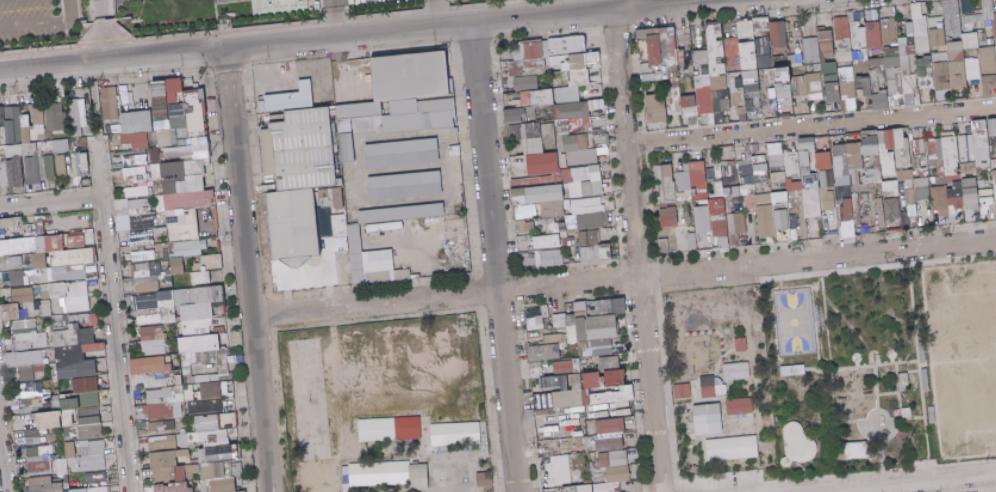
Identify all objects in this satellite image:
building: (283, 3)
road: (426, 3)
road: (628, 3)
building: (990, 3)
building: (979, 6)
road: (329, 7)
building: (914, 10)
building: (229, 14)
building: (861, 14)
building: (994, 14)
building: (849, 16)
road: (427, 17)
building: (950, 17)
building: (972, 20)
building: (934, 22)
road: (459, 23)
road: (42, 24)
road: (331, 25)
building: (759, 25)
building: (943, 25)
building: (919, 26)
building: (840, 27)
building: (747, 28)
building: (994, 28)
road: (104, 29)
building: (908, 29)
building: (709, 30)
building: (887, 31)
building: (645, 33)
building: (717, 33)
building: (758, 33)
building: (823, 33)
building: (777, 34)
building: (854, 34)
building: (873, 35)
building: (935, 37)
building: (954, 38)
building: (862, 39)
building: (947, 39)
building: (968, 39)
building: (710, 43)
building: (769, 43)
building: (981, 43)
building: (920, 44)
building: (952, 45)
building: (842, 46)
building: (904, 46)
building: (761, 47)
building: (825, 48)
building: (941, 48)
building: (642, 49)
building: (653, 49)
building: (667, 49)
building: (747, 49)
building: (809, 49)
building: (530, 50)
building: (779, 50)
building: (985, 50)
building: (994, 50)
building: (889, 51)
building: (683, 52)
building: (927, 52)
building: (716, 53)
building: (731, 53)
building: (972, 53)
building: (544, 55)
building: (840, 55)
building: (853, 55)
building: (859, 55)
building: (874, 55)
building: (954, 55)
building: (638, 57)
building: (699, 57)
road: (110, 58)
building: (793, 58)
building: (937, 58)
building: (895, 59)
building: (549, 60)
building: (779, 61)
building: (874, 61)
building: (559, 62)
building: (576, 62)
building: (763, 62)
building: (969, 62)
building: (995, 62)
building: (567, 63)
building: (748, 64)
building: (794, 64)
building: (904, 64)
building: (912, 65)
building: (922, 65)
building: (939, 65)
building: (715, 66)
building: (986, 66)
building: (525, 67)
building: (651, 67)
building: (816, 67)
building: (644, 68)
building: (827, 68)
building: (657, 69)
building: (703, 69)
building: (727, 69)
building: (730, 69)
building: (733, 69)
building: (745, 69)
building: (779, 69)
building: (562, 70)
building: (551, 71)
building: (673, 73)
building: (970, 73)
building: (408, 74)
building: (665, 74)
building: (722, 74)
building: (845, 74)
building: (713, 75)
building: (769, 75)
building: (879, 75)
building: (956, 75)
building: (566, 76)
building: (647, 76)
building: (658, 76)
building: (748, 76)
building: (764, 76)
building: (781, 76)
building: (577, 78)
building: (938, 78)
building: (891, 79)
building: (704, 80)
building: (873, 80)
building: (925, 81)
building: (717, 82)
building: (726, 82)
building: (734, 82)
building: (524, 83)
building: (786, 83)
building: (812, 83)
building: (897, 83)
building: (696, 84)
building: (862, 84)
building: (908, 84)
building: (987, 84)
building: (738, 85)
building: (777, 85)
building: (797, 85)
building: (944, 85)
building: (195, 86)
building: (830, 87)
building: (847, 89)
building: (177, 90)
building: (190, 90)
building: (782, 92)
building: (751, 93)
building: (200, 94)
building: (566, 95)
building: (671, 96)
building: (816, 96)
building: (541, 97)
road: (94, 98)
building: (292, 98)
building: (525, 98)
building: (703, 99)
building: (720, 99)
building: (119, 100)
building: (729, 100)
building: (117, 101)
building: (687, 101)
building: (771, 101)
building: (108, 102)
building: (737, 103)
building: (747, 103)
building: (202, 104)
building: (595, 104)
building: (159, 106)
building: (654, 108)
building: (187, 110)
building: (190, 110)
building: (331, 110)
building: (570, 110)
building: (203, 112)
building: (538, 113)
building: (177, 115)
building: (194, 115)
building: (514, 115)
building: (689, 115)
building: (1, 117)
building: (13, 117)
building: (79, 117)
building: (204, 117)
building: (54, 119)
building: (35, 120)
building: (529, 120)
building: (135, 121)
building: (204, 125)
building: (332, 126)
building: (161, 127)
building: (302, 130)
building: (9, 131)
building: (205, 132)
building: (25, 133)
building: (181, 133)
building: (119, 136)
building: (2, 137)
building: (168, 138)
building: (17, 139)
building: (135, 140)
building: (197, 140)
building: (119, 142)
building: (334, 143)
building: (81, 144)
building: (985, 144)
building: (59, 145)
building: (43, 146)
building: (126, 146)
building: (200, 147)
building: (27, 148)
building: (160, 148)
building: (12, 150)
building: (178, 151)
building: (267, 152)
building: (2, 153)
building: (34, 153)
building: (403, 153)
building: (153, 156)
building: (11, 158)
building: (167, 158)
building: (83, 160)
building: (134, 160)
building: (76, 164)
building: (60, 166)
building: (41, 167)
building: (49, 167)
building: (31, 168)
building: (728, 169)
building: (23, 170)
building: (995, 171)
building: (14, 172)
building: (845, 172)
building: (3, 173)
building: (551, 175)
building: (666, 181)
building: (406, 185)
building: (339, 198)
building: (773, 198)
building: (187, 199)
building: (890, 205)
building: (988, 205)
building: (526, 211)
building: (402, 213)
building: (135, 214)
building: (670, 216)
building: (722, 217)
building: (703, 219)
building: (782, 219)
building: (766, 221)
building: (591, 226)
building: (143, 237)
building: (547, 241)
building: (692, 241)
building: (71, 244)
building: (664, 246)
road: (635, 250)
building: (144, 255)
building: (51, 256)
road: (493, 257)
building: (550, 258)
building: (214, 262)
building: (373, 262)
road: (245, 268)
building: (148, 276)
building: (17, 278)
building: (202, 278)
building: (23, 294)
building: (66, 297)
building: (200, 302)
building: (158, 304)
building: (11, 311)
road: (111, 319)
building: (565, 320)
building: (600, 323)
building: (29, 335)
building: (553, 338)
building: (154, 340)
building: (742, 344)
building: (552, 351)
building: (75, 352)
park: (960, 354)
building: (610, 363)
building: (26, 364)
building: (151, 365)
building: (568, 366)
building: (793, 370)
building: (737, 371)
building: (86, 384)
building: (713, 387)
building: (589, 388)
building: (32, 389)
building: (684, 390)
building: (212, 391)
building: (81, 402)
building: (740, 406)
building: (68, 418)
building: (709, 419)
building: (51, 420)
building: (90, 425)
building: (162, 426)
building: (391, 429)
building: (455, 433)
building: (611, 434)
building: (28, 437)
building: (213, 439)
building: (163, 443)
building: (733, 448)
building: (858, 450)
building: (66, 459)
building: (616, 465)
building: (167, 466)
building: (215, 471)
building: (391, 474)
building: (560, 474)
building: (46, 485)
building: (225, 485)
building: (173, 487)
building: (605, 487)
building: (586, 488)
building: (97, 489)

